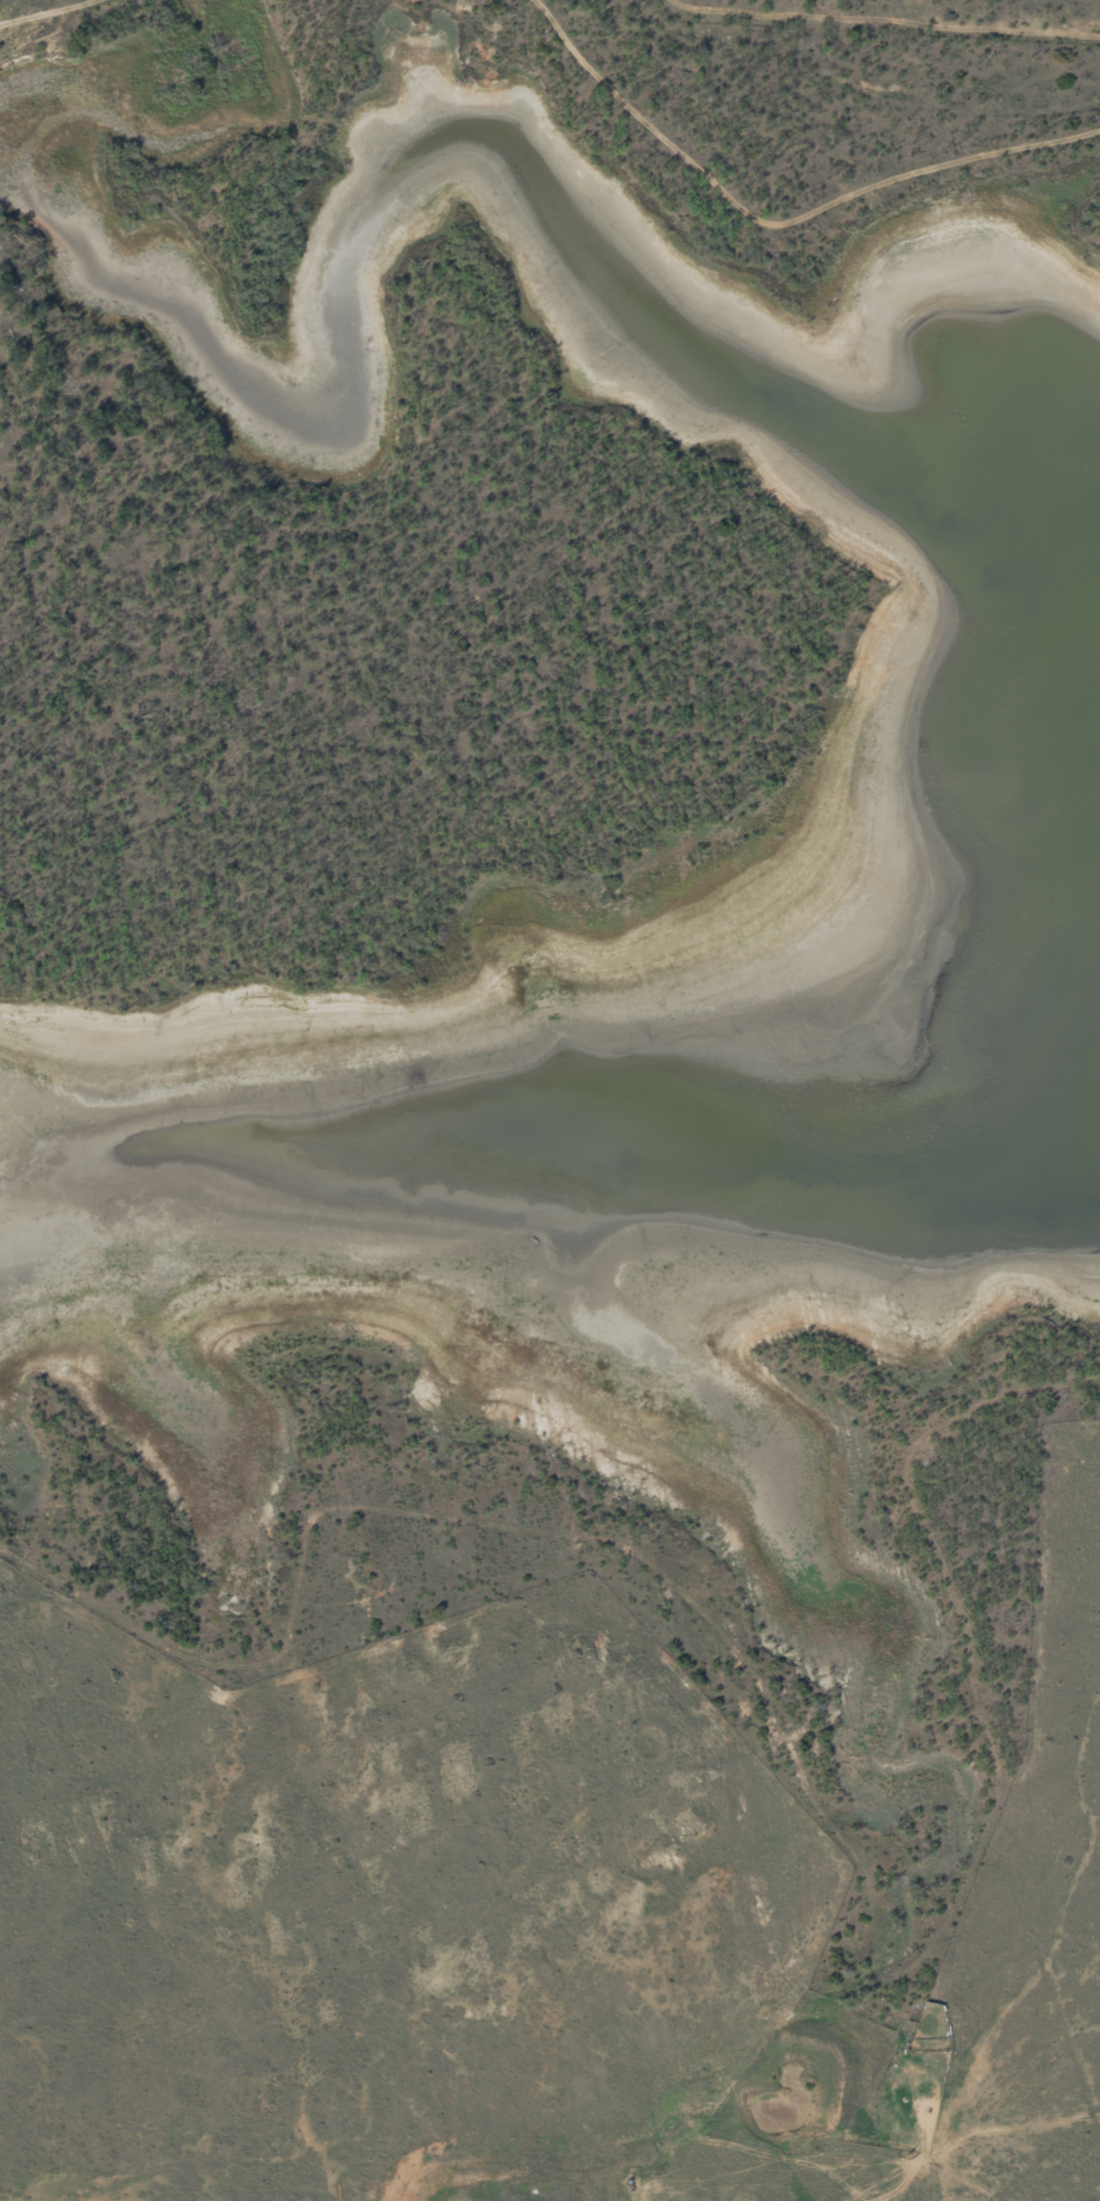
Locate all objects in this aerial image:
road: (885, 18)
road: (783, 221)
road: (360, 2088)

